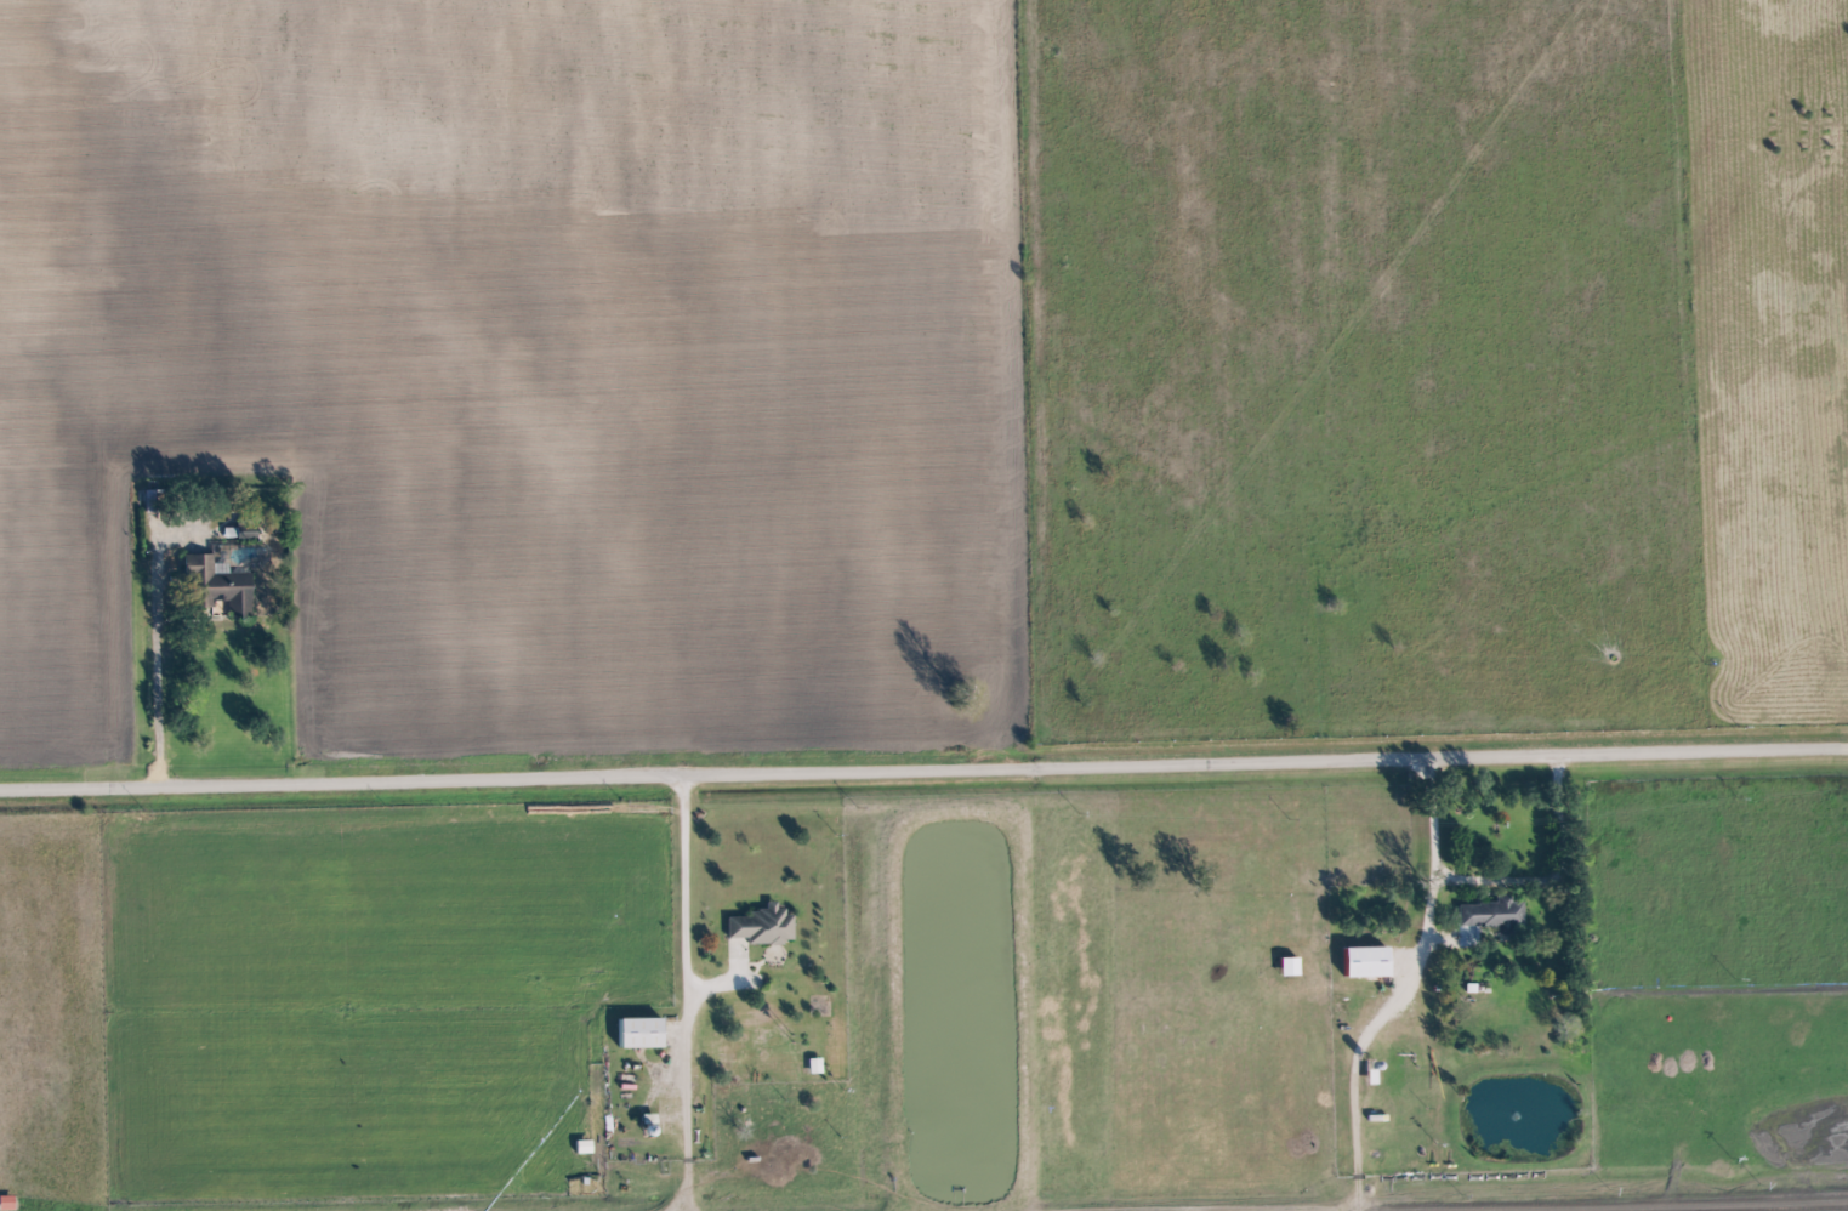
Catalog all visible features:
building: (217, 586)
road: (152, 641)
road: (923, 768)
road: (1432, 866)
road: (1552, 875)
road: (680, 892)
building: (1494, 916)
building: (763, 927)
building: (1366, 962)
building: (1290, 967)
building: (641, 1034)
building: (815, 1067)
building: (6, 1204)

